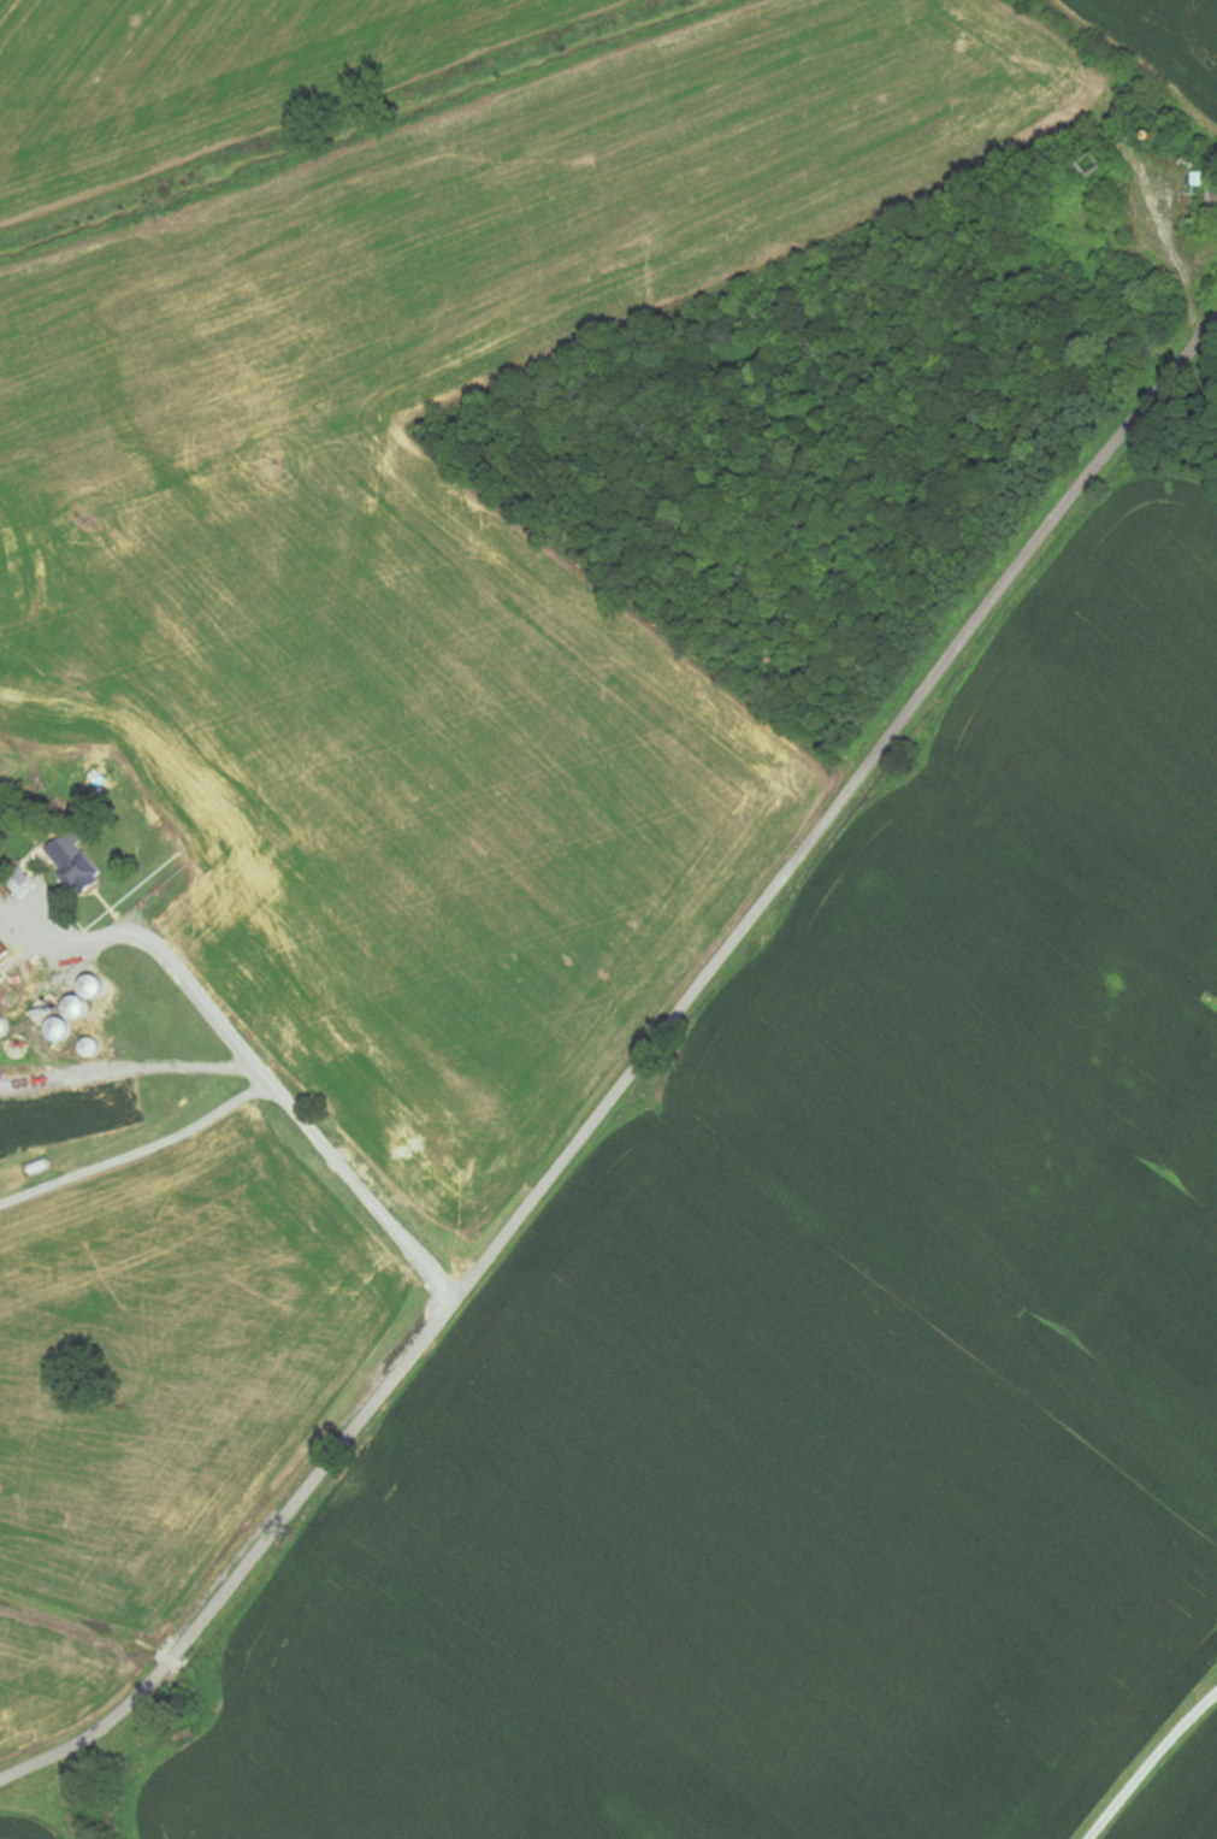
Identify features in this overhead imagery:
building: (83, 865)
building: (6, 950)
road: (254, 1055)
road: (631, 1075)
road: (1141, 1738)

